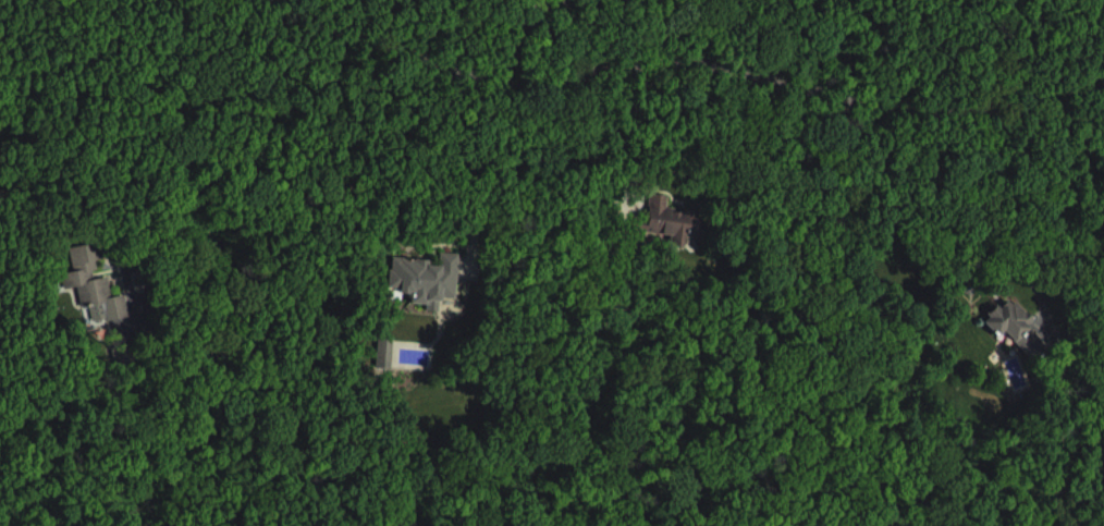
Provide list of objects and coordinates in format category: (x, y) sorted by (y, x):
road: (511, 34)
road: (842, 49)
road: (687, 63)
road: (116, 85)
road: (701, 127)
road: (962, 137)
road: (457, 164)
road: (980, 220)
building: (643, 222)
building: (676, 238)
building: (427, 274)
building: (101, 294)
building: (1019, 342)
building: (382, 348)

